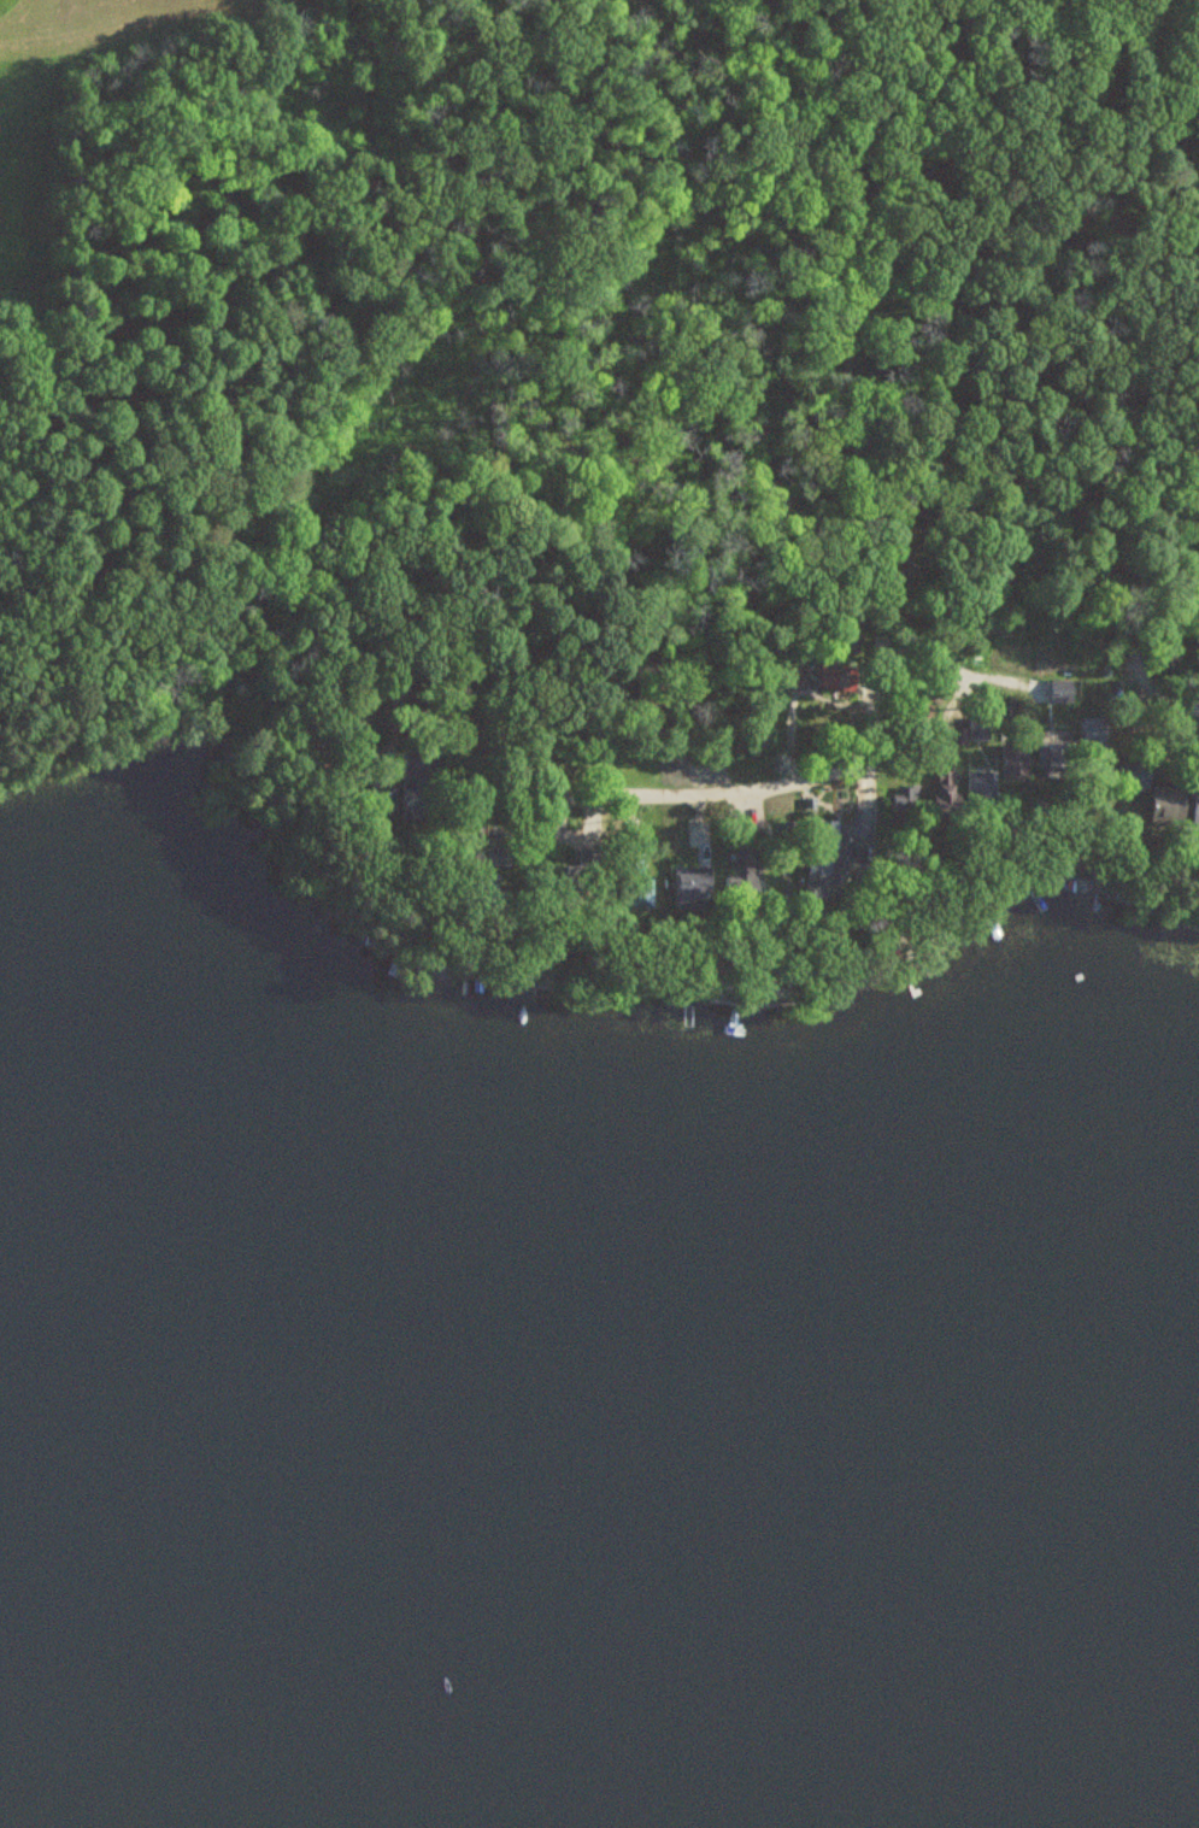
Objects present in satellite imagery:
road: (1070, 521)
road: (880, 576)
building: (1062, 700)
building: (978, 731)
building: (1017, 765)
building: (1179, 804)
building: (699, 875)

